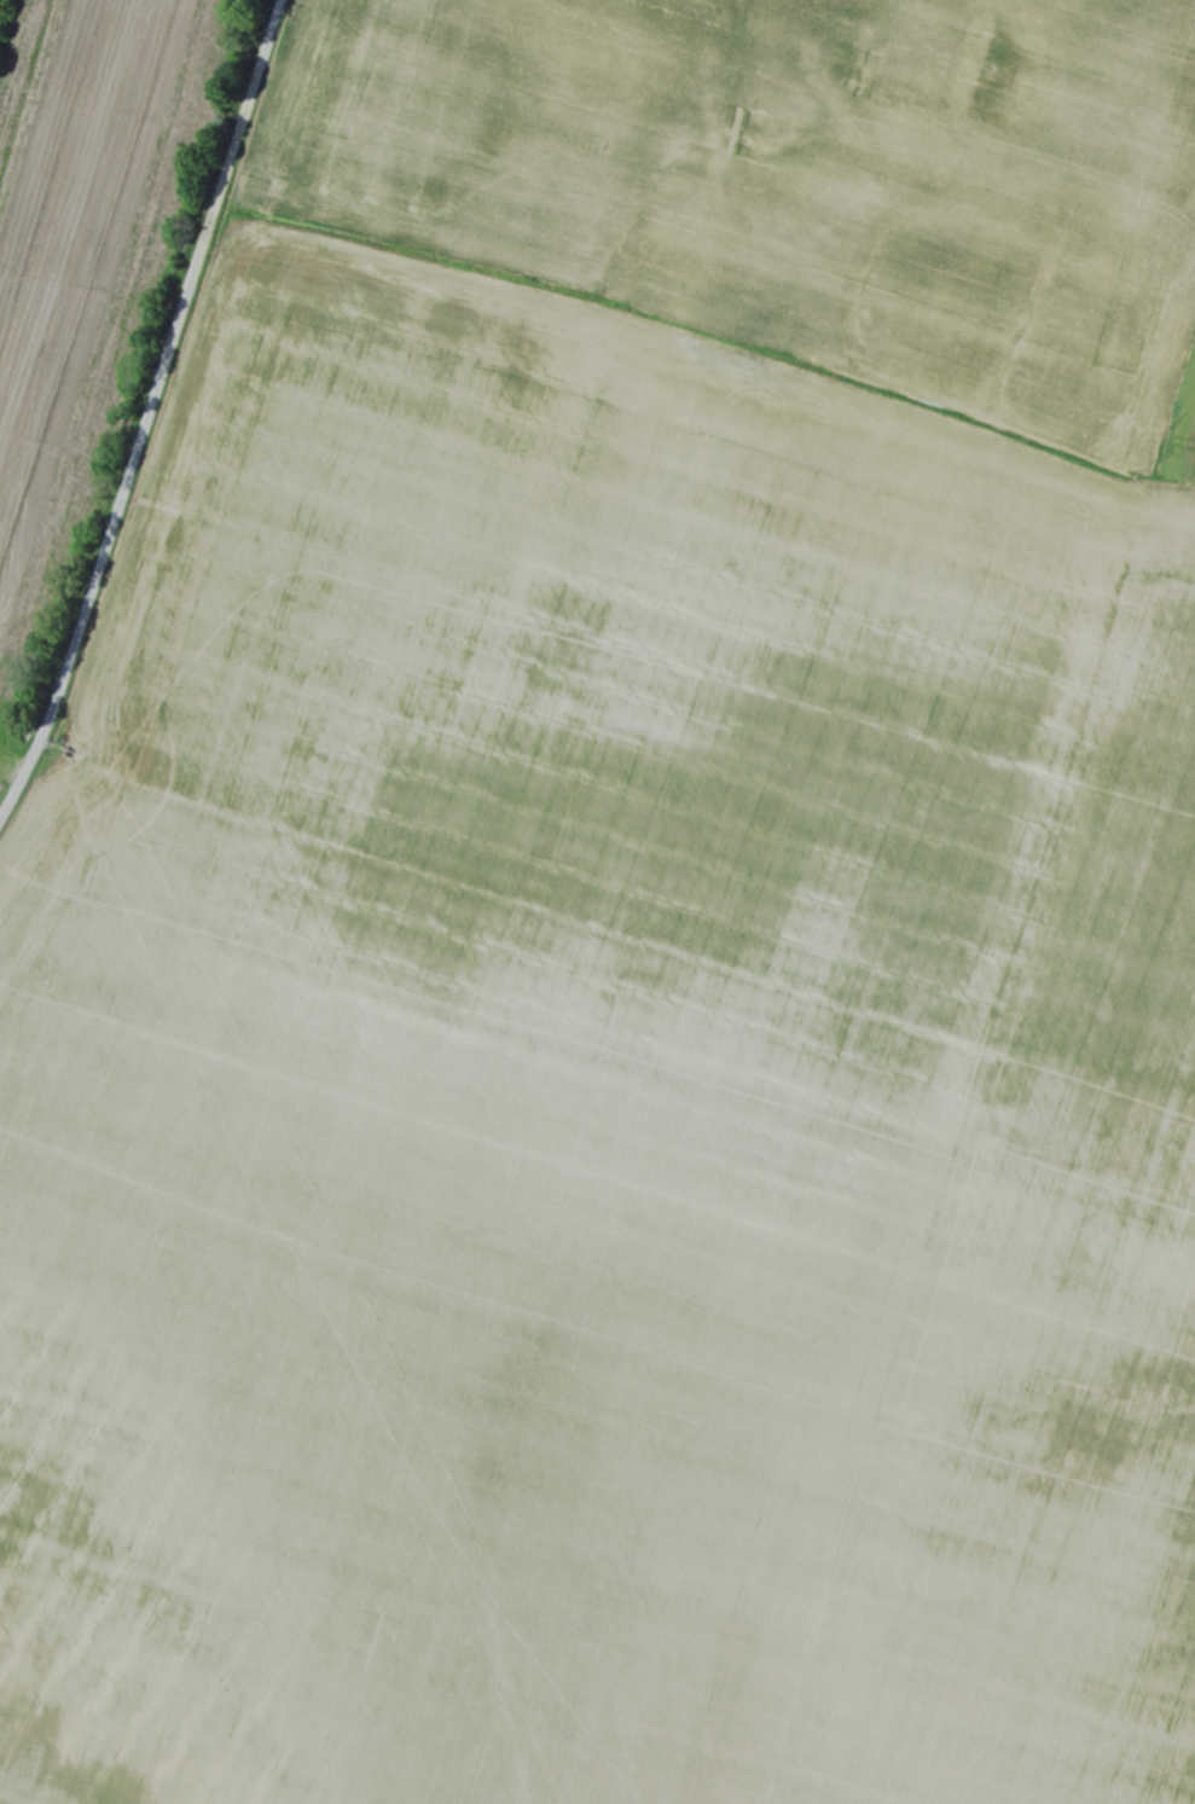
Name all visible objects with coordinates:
road: (149, 413)

